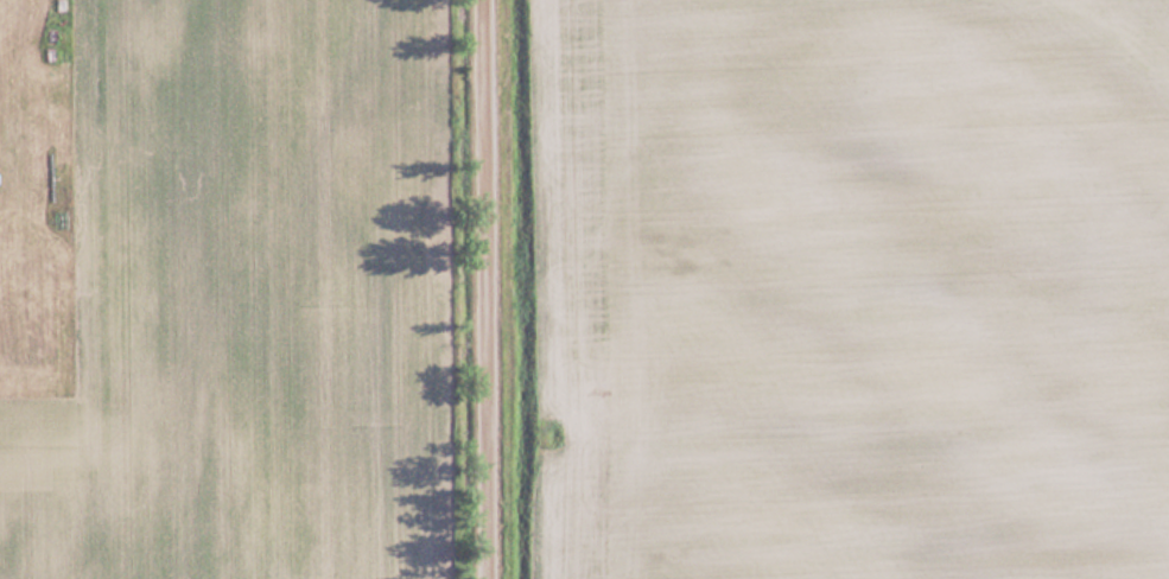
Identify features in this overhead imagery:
road: (489, 289)

